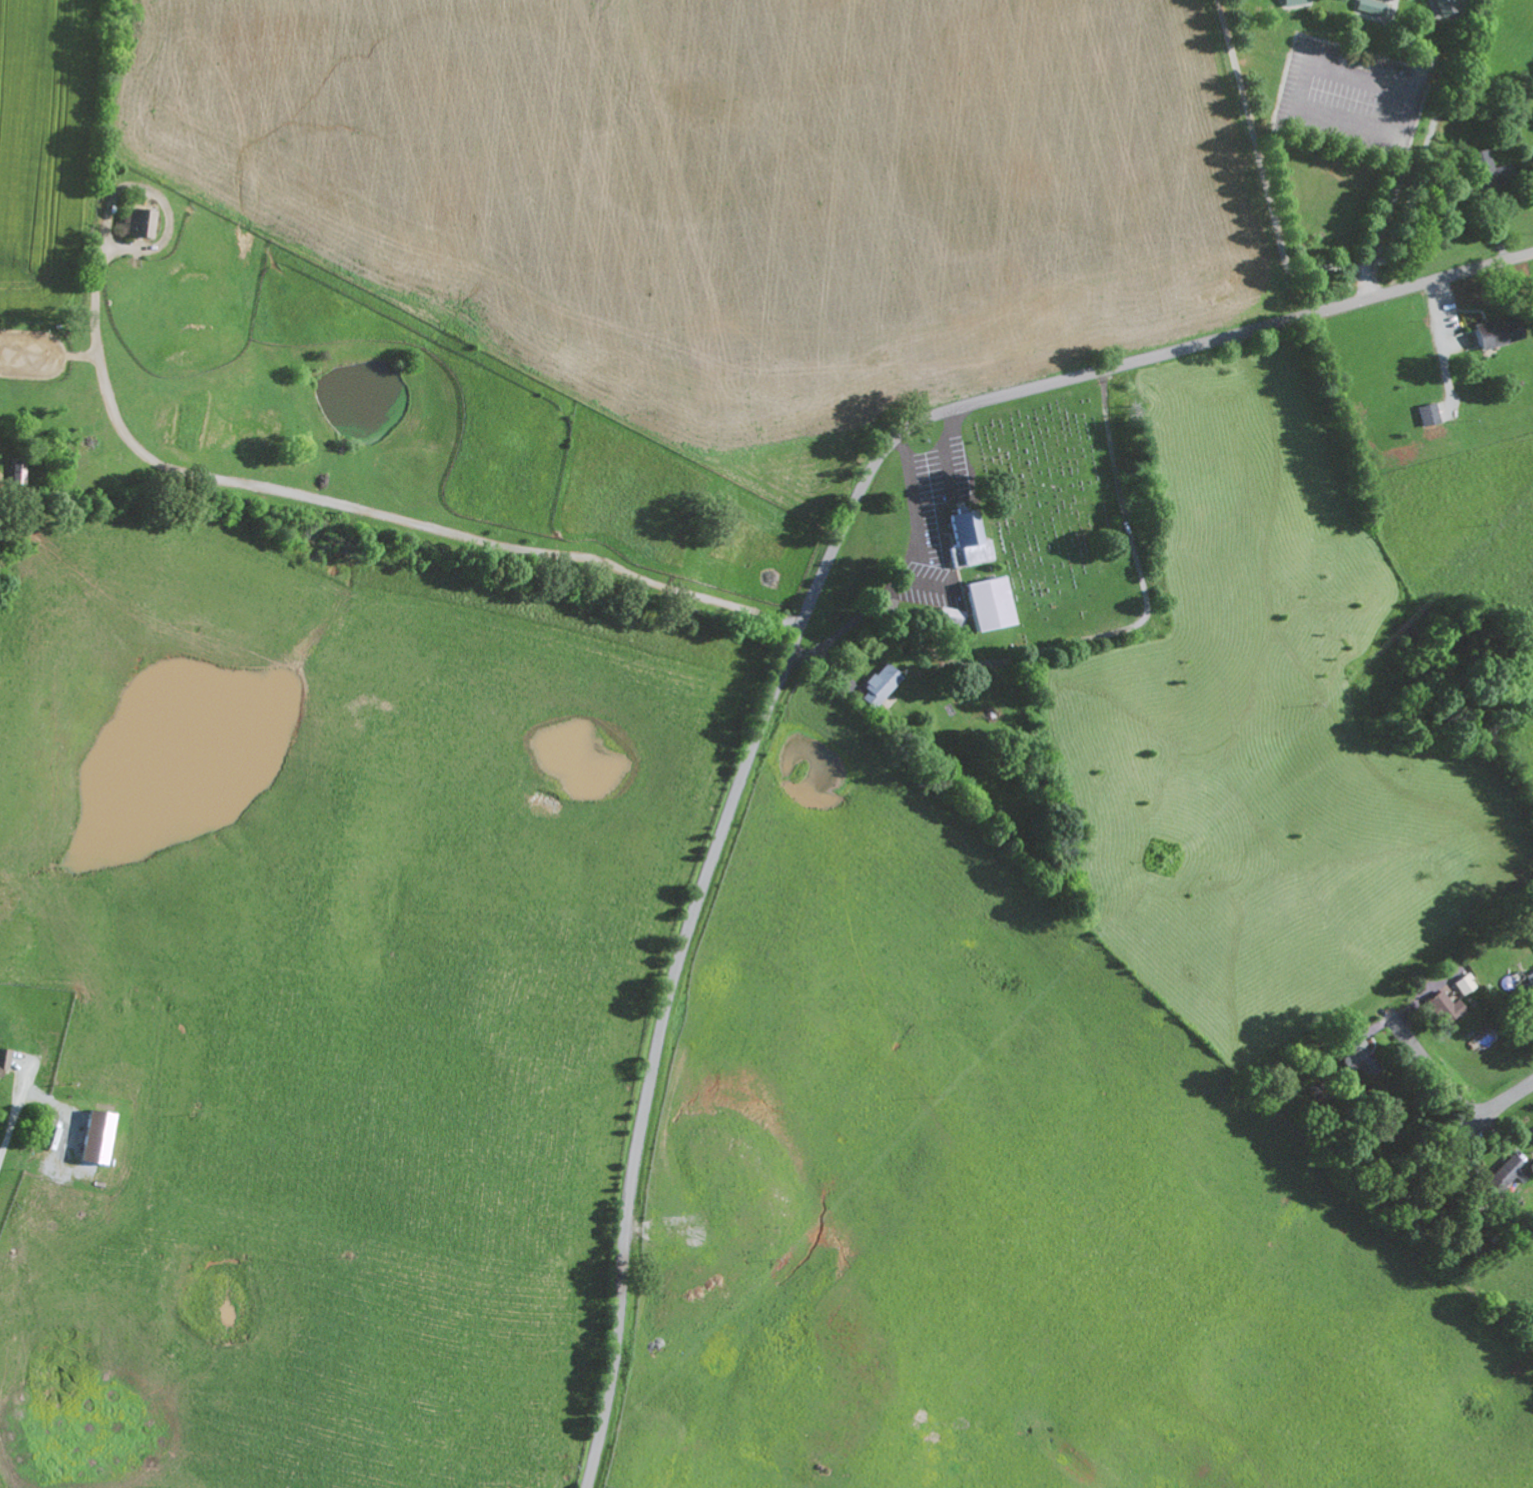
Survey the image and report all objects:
building: (1292, 2)
building: (1367, 7)
road: (1318, 117)
road: (1264, 157)
building: (1481, 171)
building: (133, 222)
building: (1490, 333)
building: (1424, 414)
road: (945, 450)
building: (17, 470)
road: (259, 484)
park: (1055, 516)
road: (912, 575)
building: (983, 602)
building: (946, 615)
road: (797, 633)
building: (875, 684)
building: (1460, 983)
building: (1438, 1006)
building: (1529, 1015)
building: (1352, 1052)
building: (1, 1057)
road: (1435, 1074)
road: (1506, 1104)
building: (1532, 1129)
building: (93, 1136)
building: (1505, 1174)

